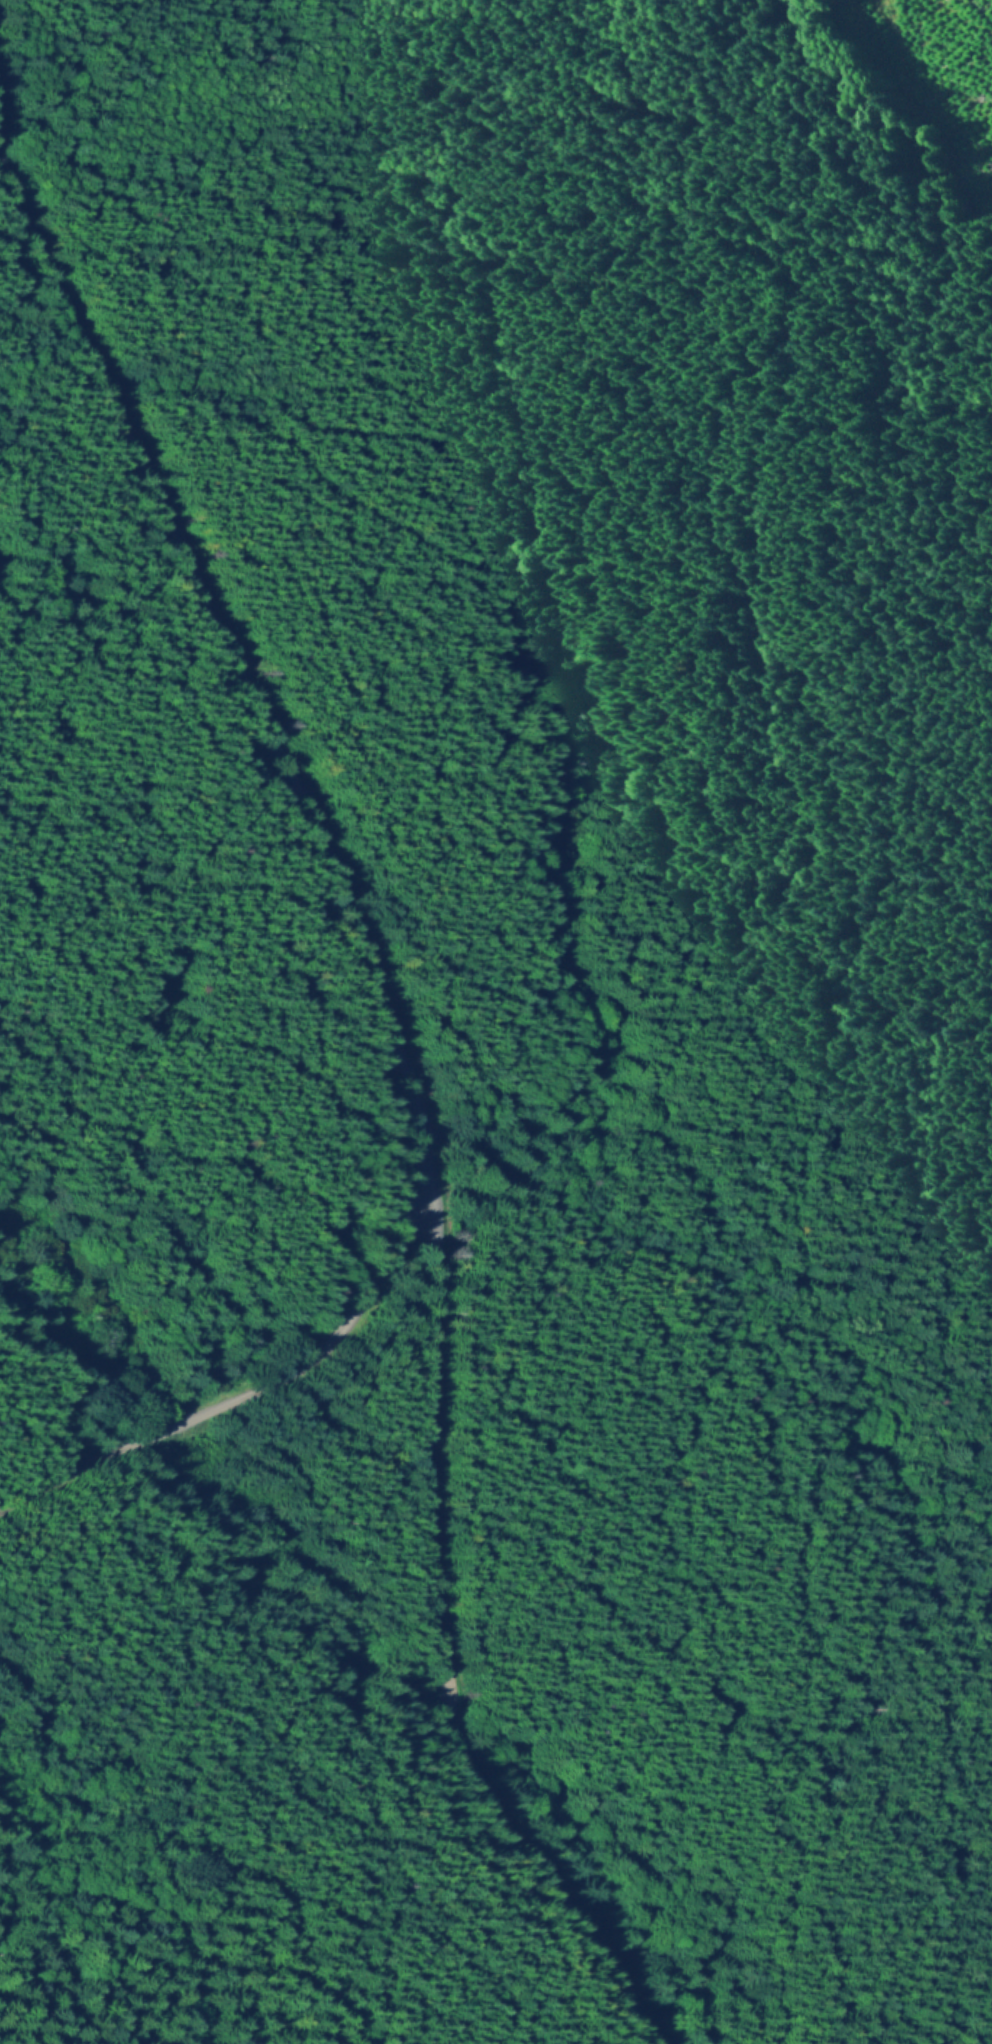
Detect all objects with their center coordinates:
road: (432, 1020)
road: (265, 1387)

